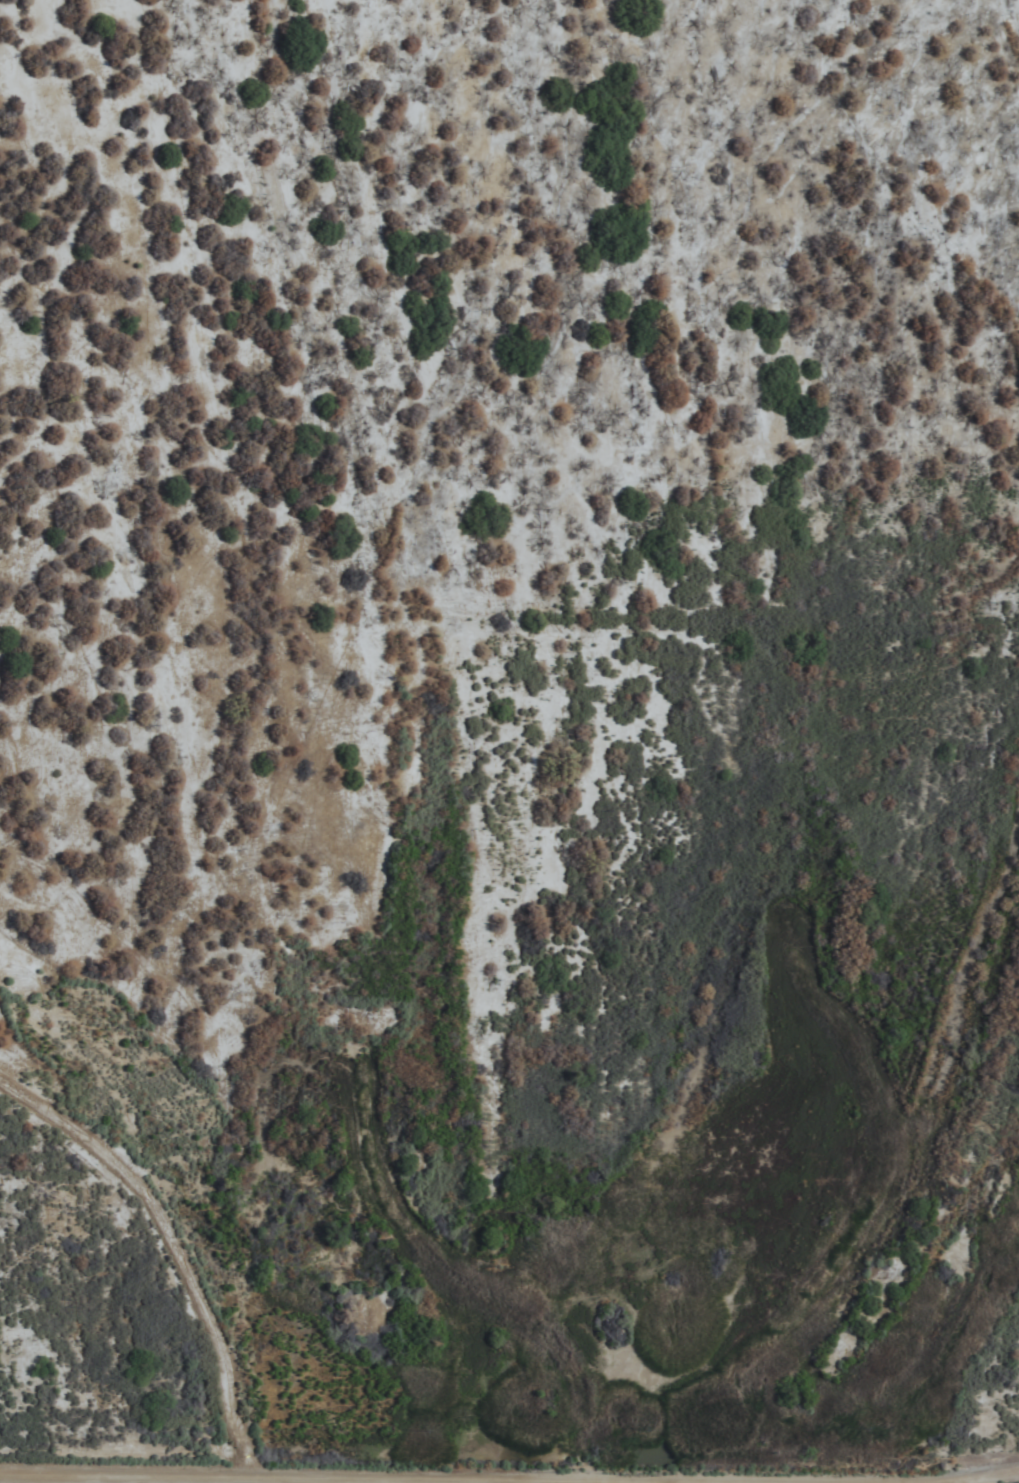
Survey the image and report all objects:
road: (763, 1465)
road: (139, 1479)

